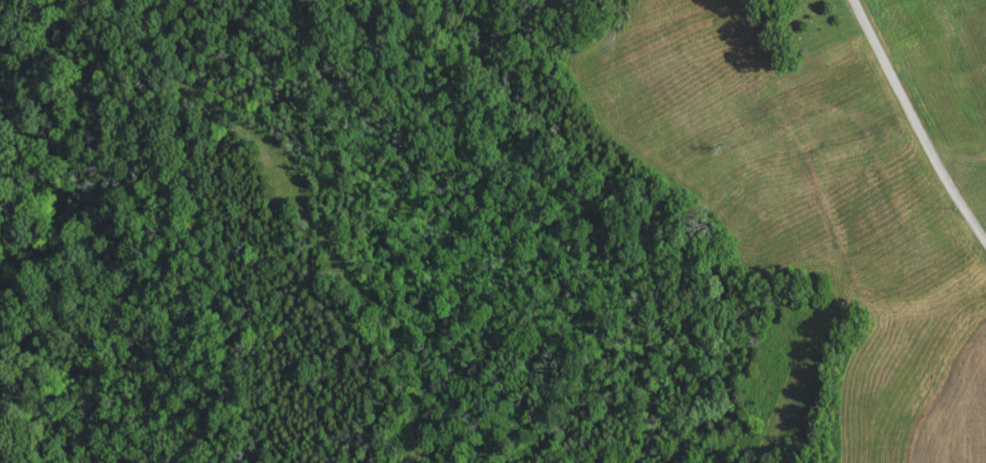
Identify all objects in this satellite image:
road: (922, 119)

